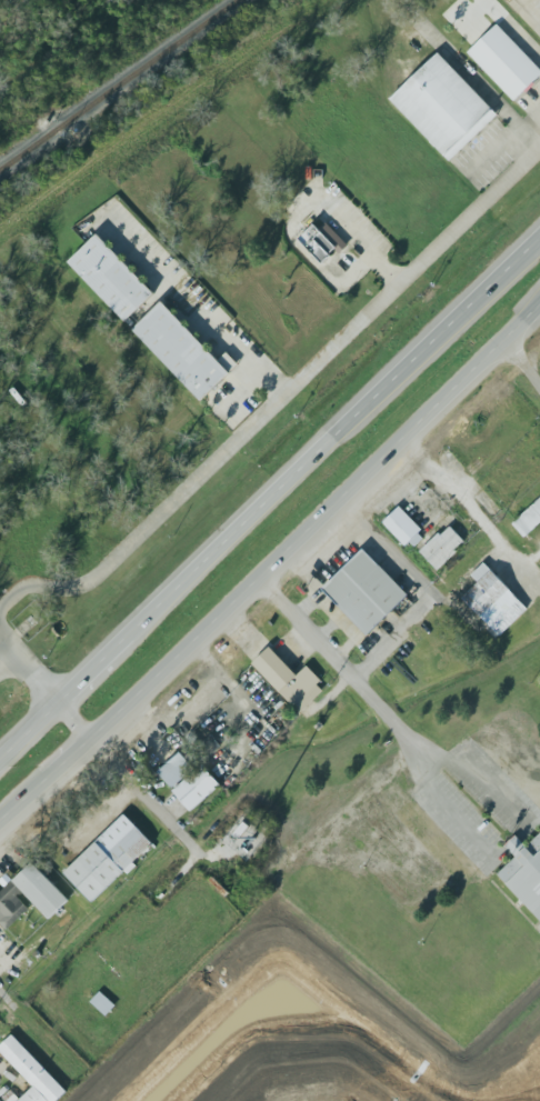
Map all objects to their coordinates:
road: (528, 12)
road: (520, 39)
building: (504, 60)
road: (478, 83)
railway: (120, 86)
building: (441, 104)
road: (494, 153)
building: (322, 241)
road: (359, 242)
road: (312, 261)
road: (200, 309)
building: (150, 319)
road: (522, 366)
road: (239, 392)
road: (277, 401)
road: (333, 437)
road: (473, 510)
building: (528, 519)
road: (316, 526)
building: (404, 528)
building: (443, 548)
road: (387, 552)
road: (532, 559)
building: (364, 591)
building: (493, 600)
road: (392, 640)
road: (7, 660)
road: (342, 668)
road: (92, 670)
road: (28, 671)
building: (289, 680)
road: (74, 721)
road: (28, 731)
building: (209, 745)
road: (62, 767)
building: (176, 769)
building: (196, 787)
road: (156, 807)
road: (17, 809)
road: (518, 843)
building: (108, 859)
building: (526, 875)
building: (11, 904)
road: (4, 998)
building: (102, 1003)
building: (32, 1072)
building: (10, 1098)

